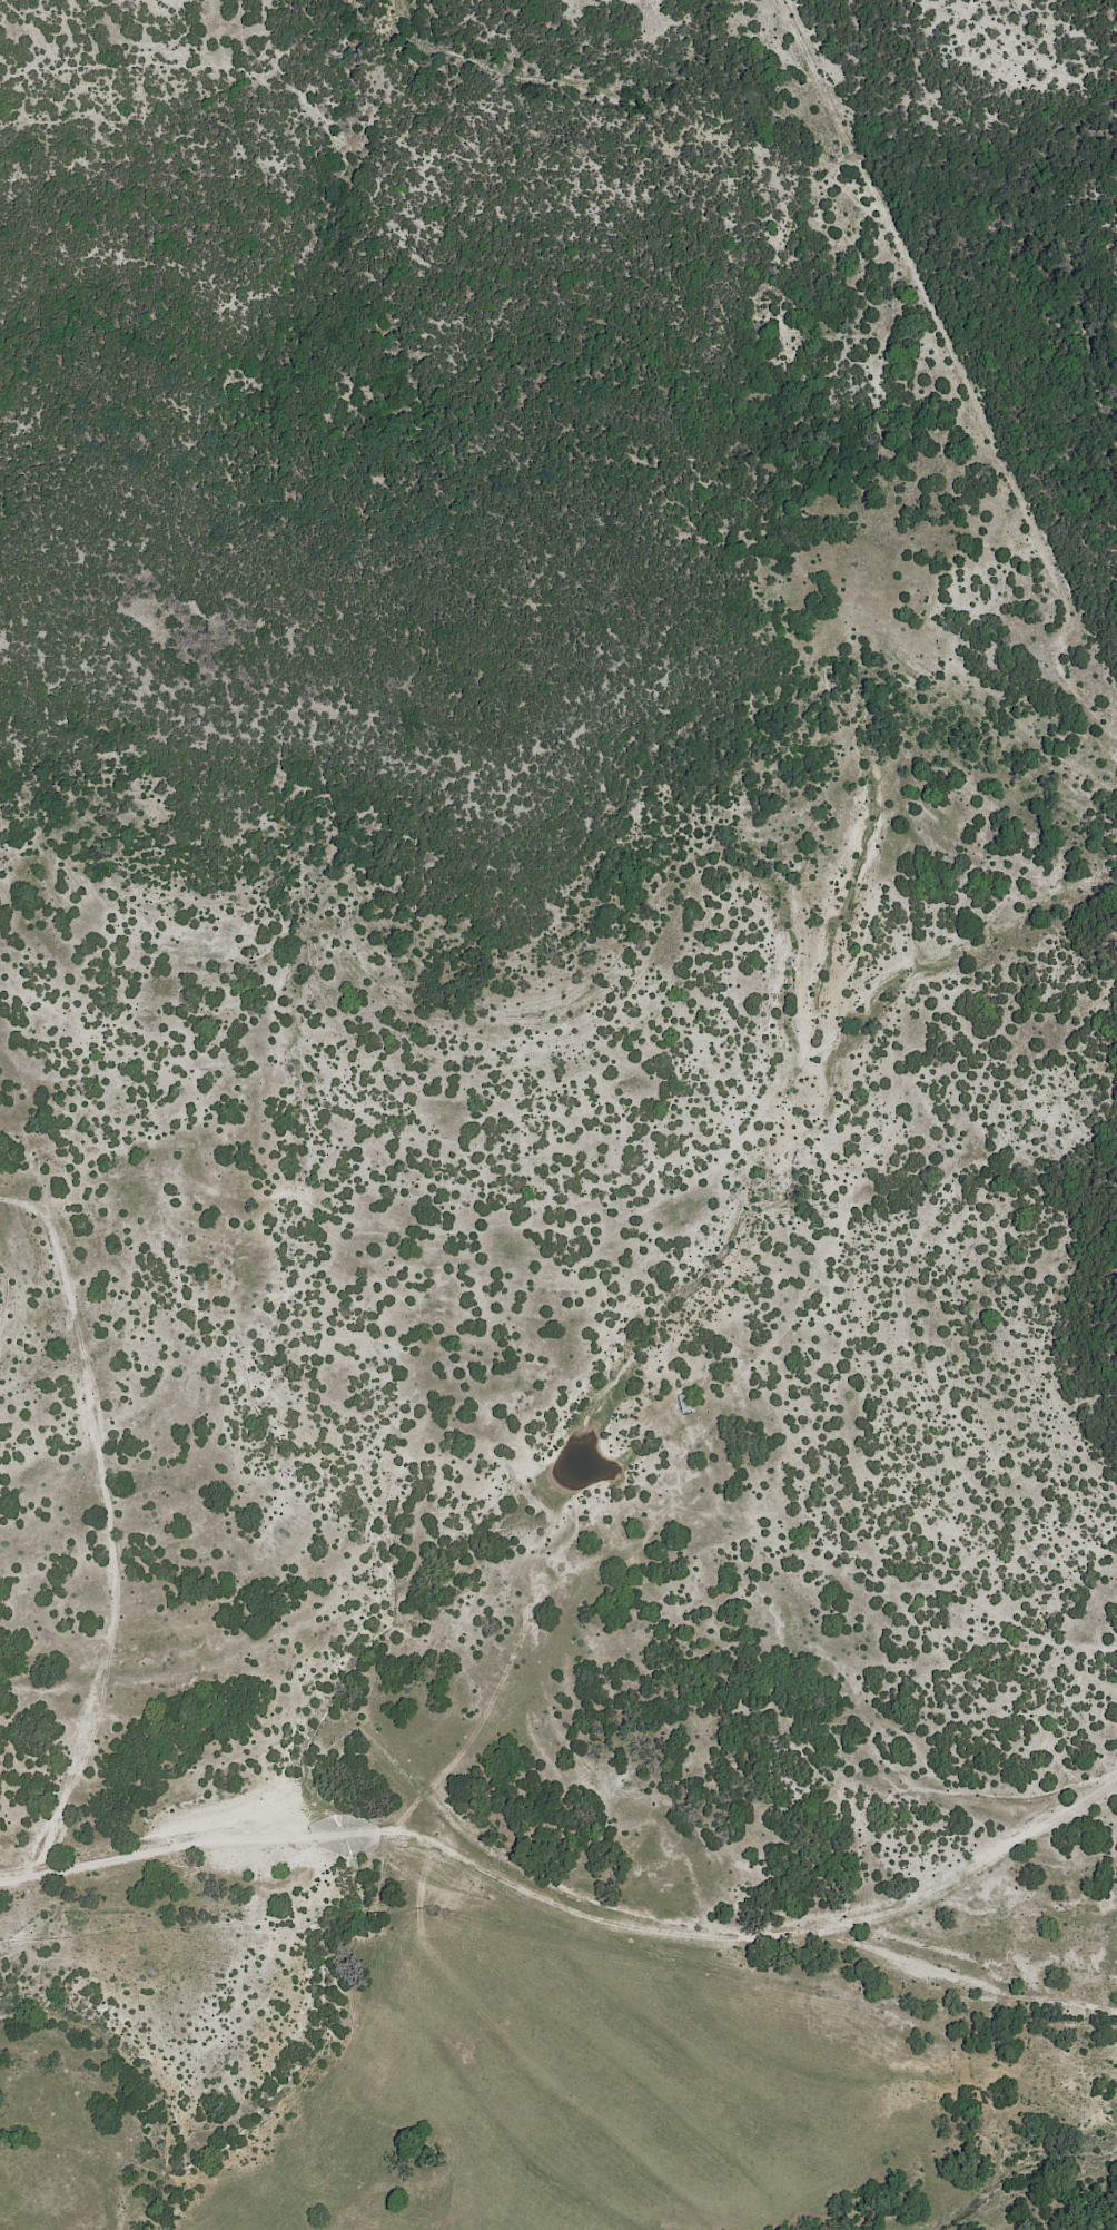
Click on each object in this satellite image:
road: (561, 1914)

